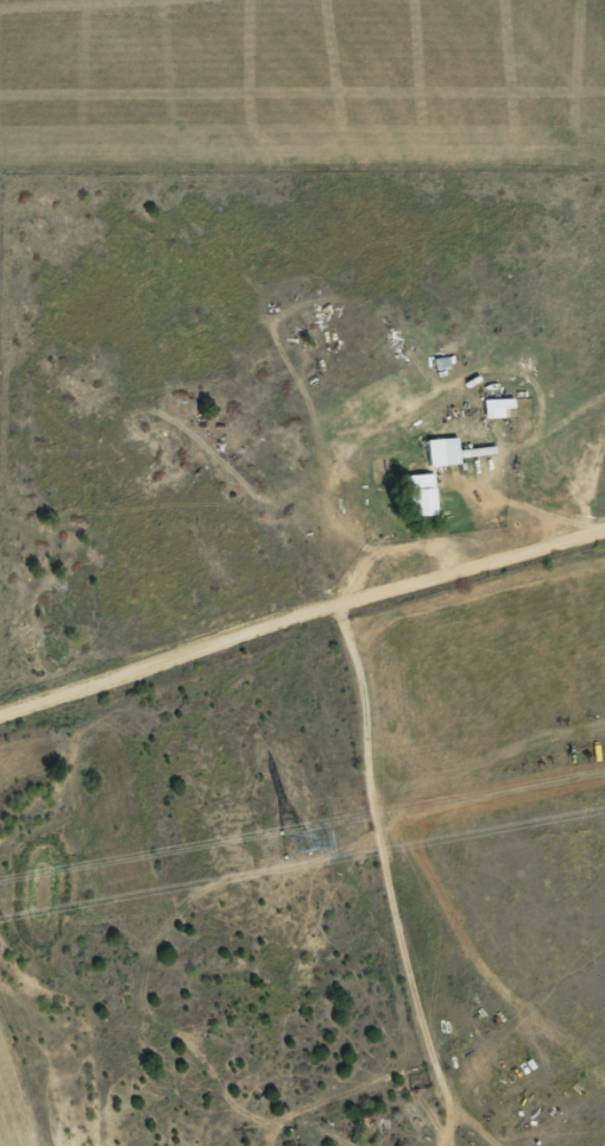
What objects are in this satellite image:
building: (500, 411)
building: (477, 453)
building: (436, 455)
building: (423, 497)
road: (301, 661)
power tower: (297, 846)

